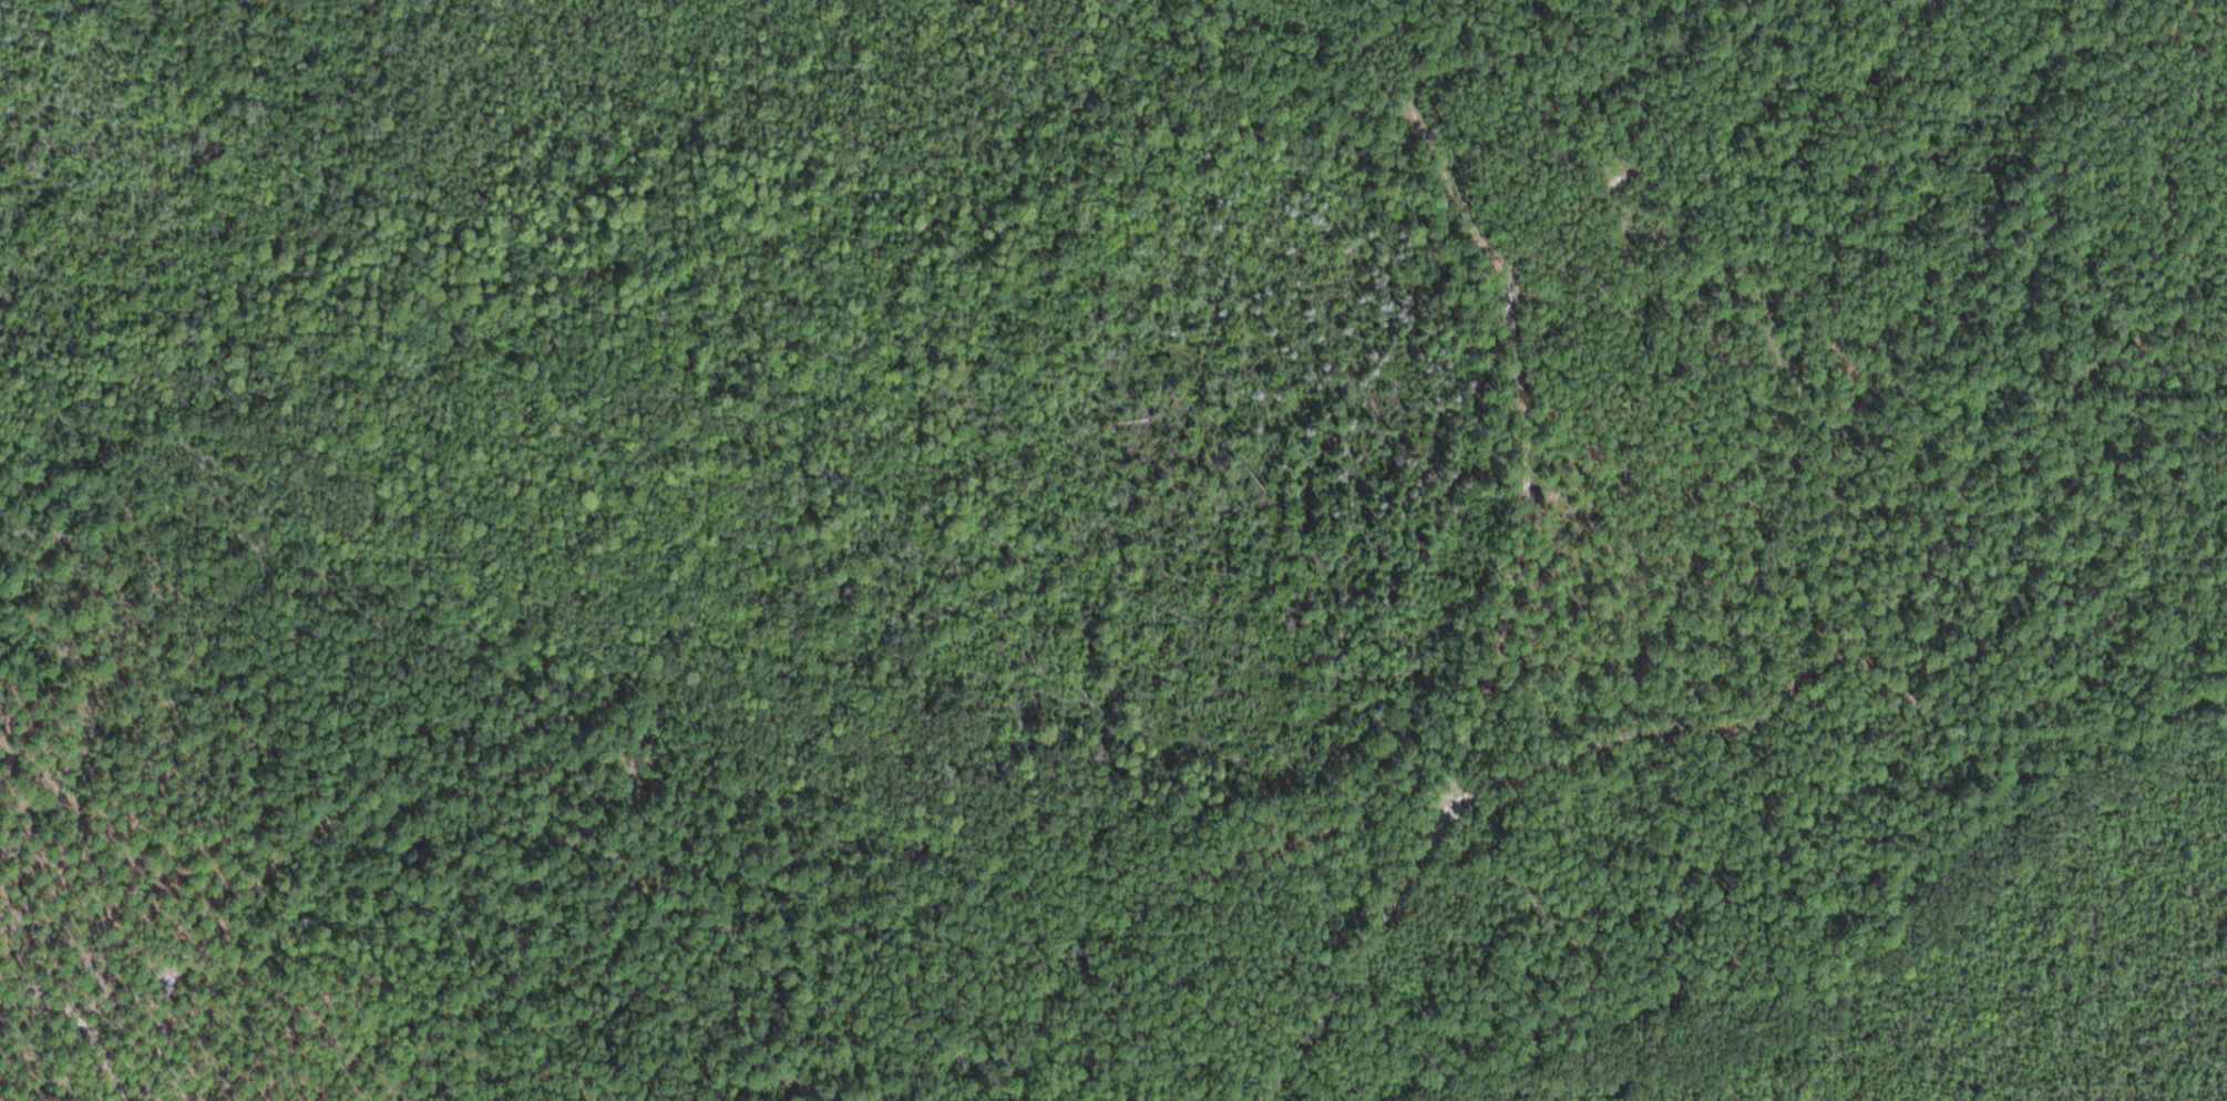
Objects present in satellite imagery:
road: (1887, 566)
road: (1505, 583)

